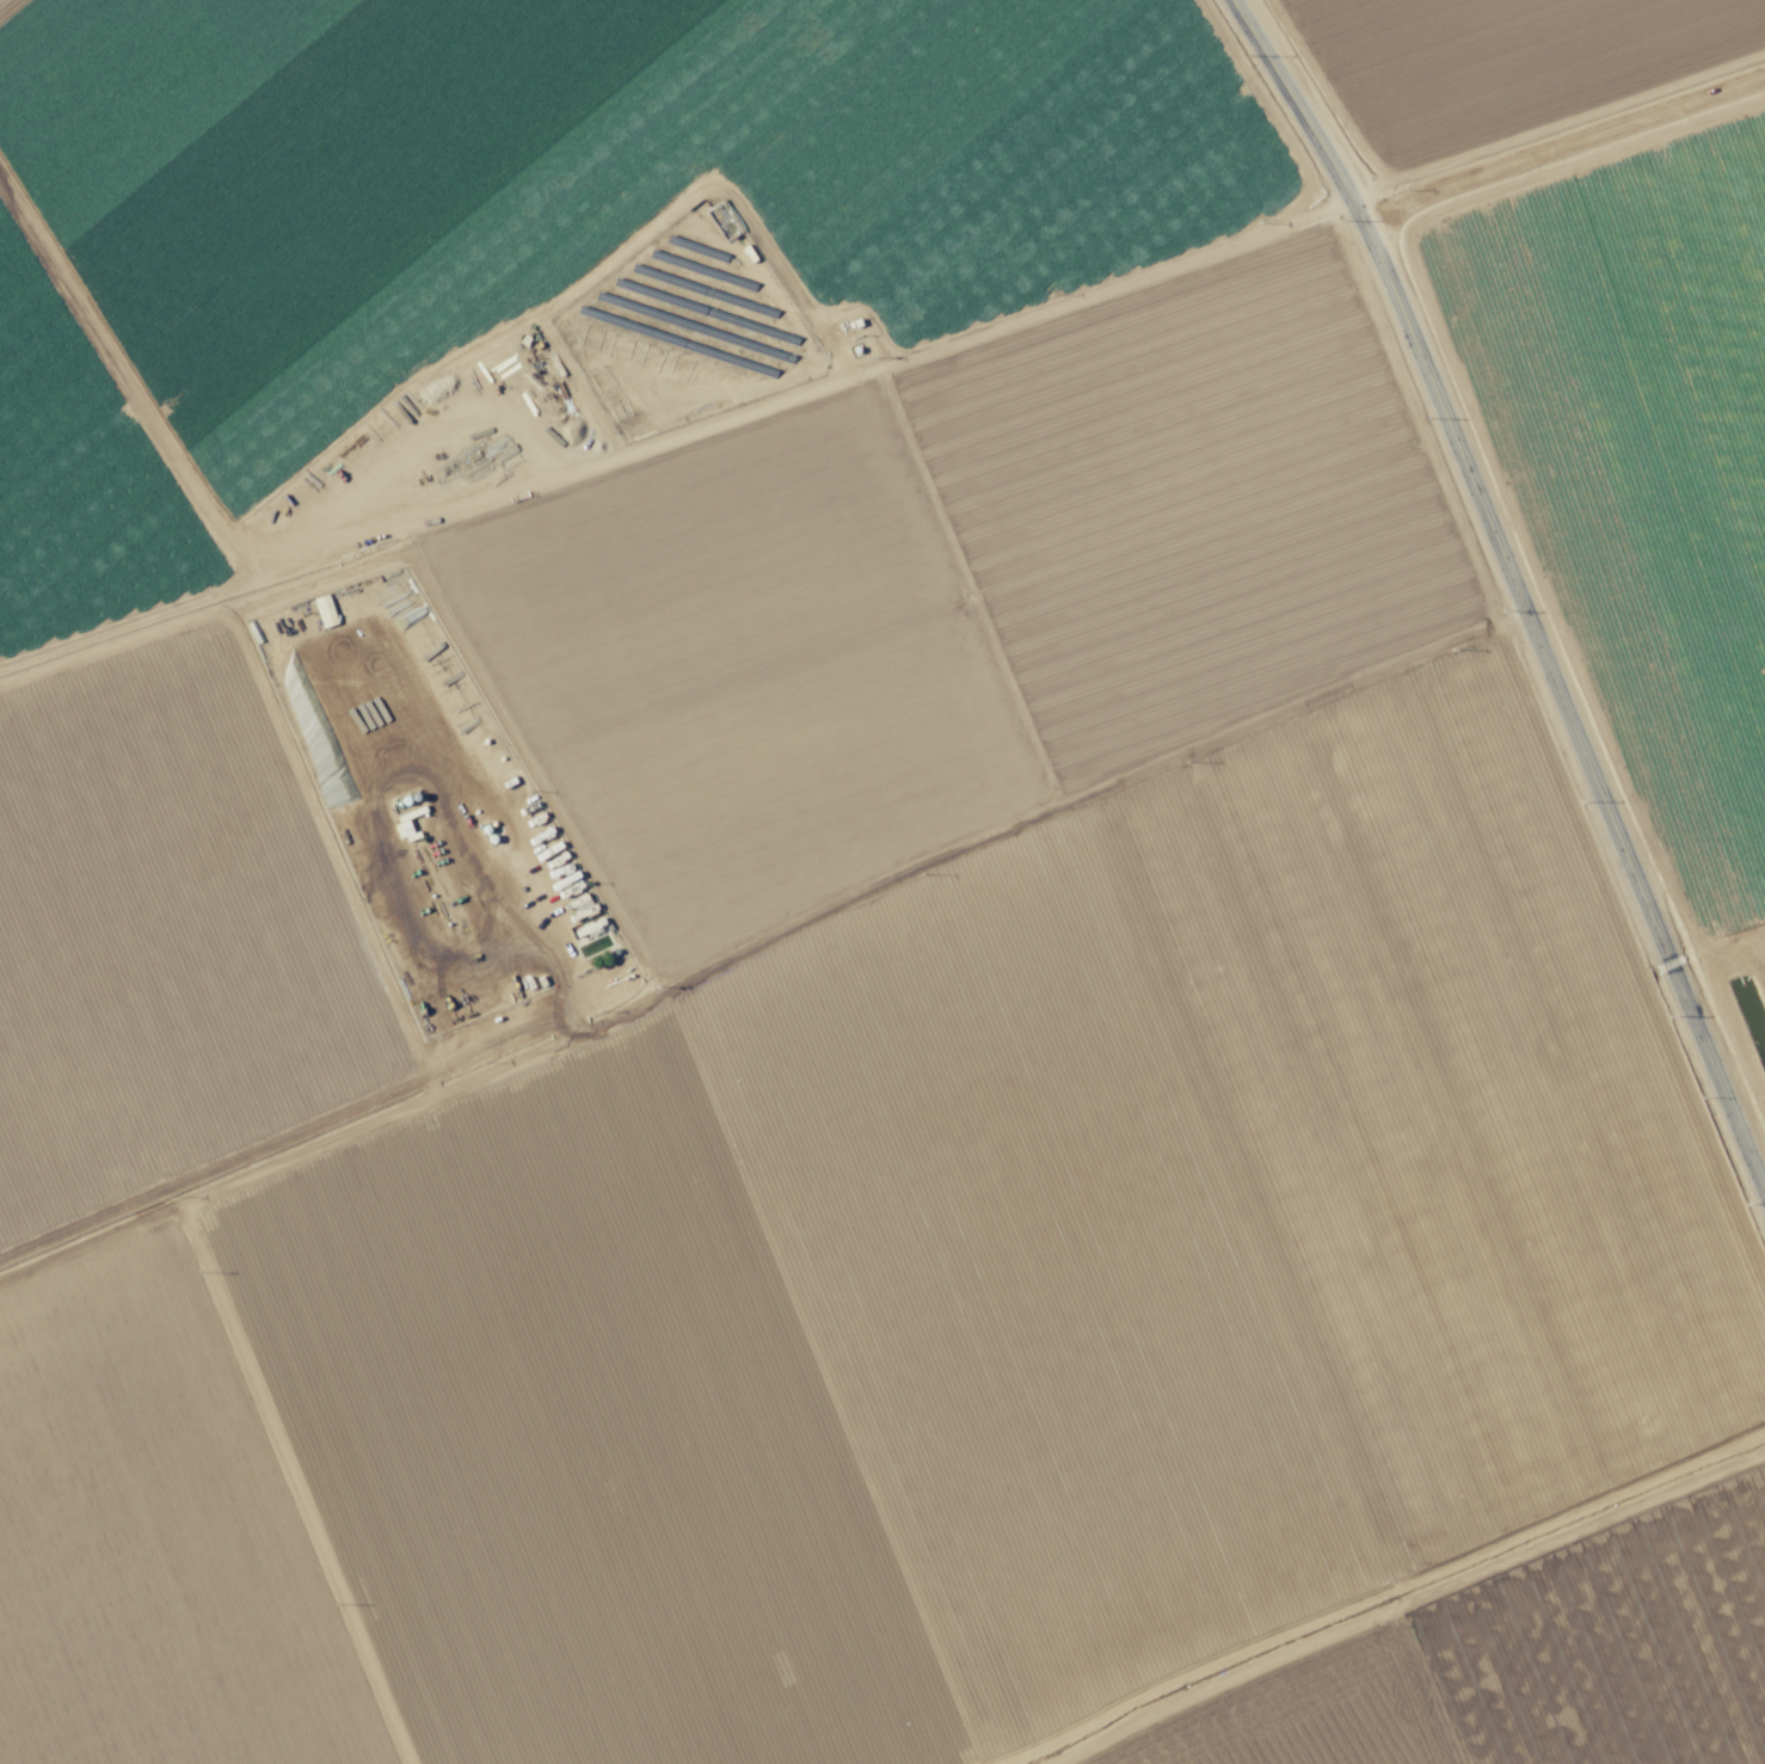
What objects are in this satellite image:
road: (879, 365)
building: (503, 450)
road: (1508, 598)
crop: (882, 881)
building: (559, 927)
road: (1377, 1597)

